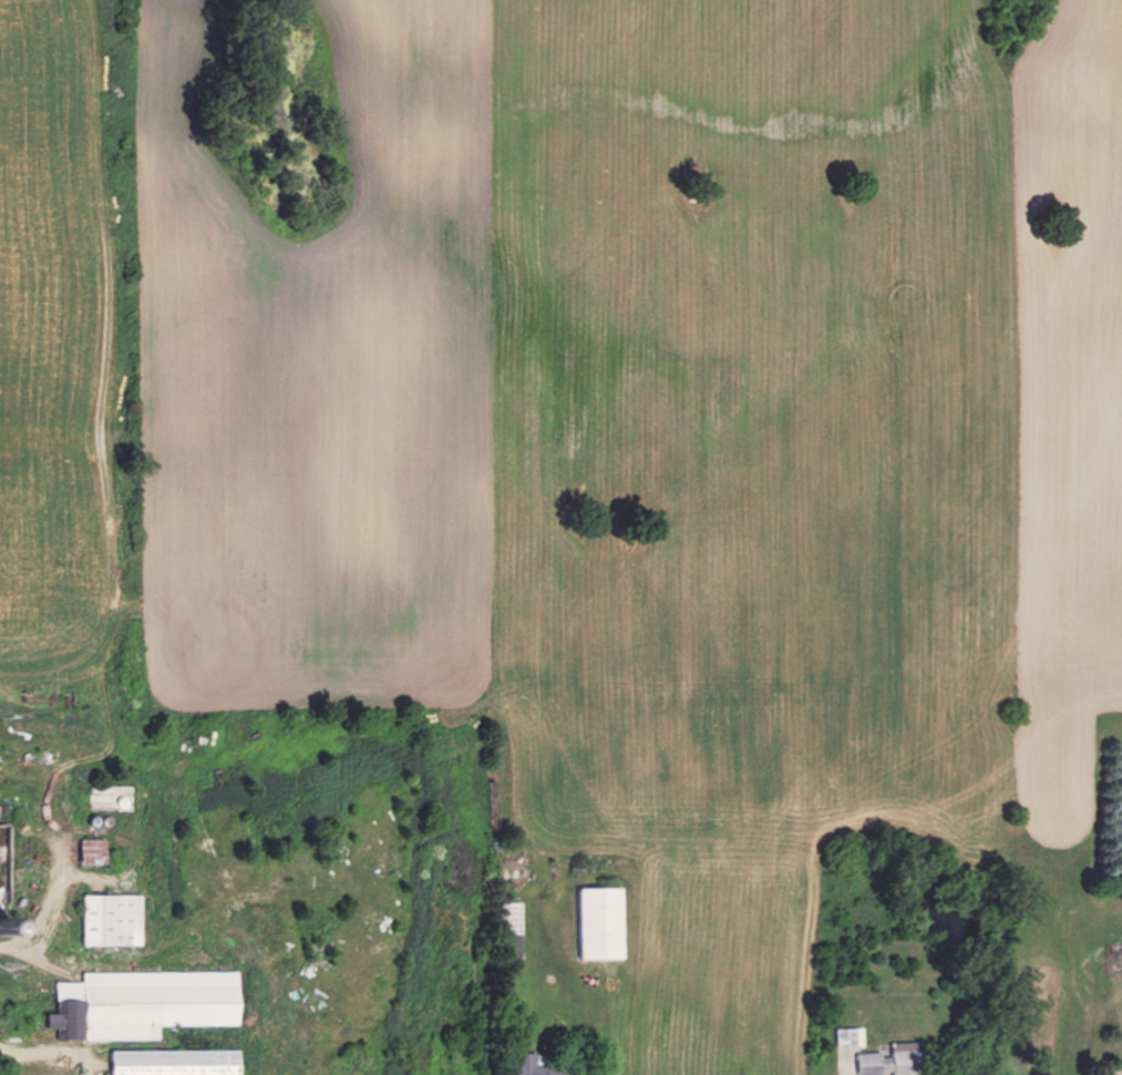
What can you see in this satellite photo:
building: (95, 849)
building: (6, 864)
road: (42, 902)
building: (114, 917)
building: (601, 920)
building: (145, 1001)
building: (850, 1034)
road: (44, 1054)
building: (891, 1058)
building: (178, 1061)
building: (535, 1064)

